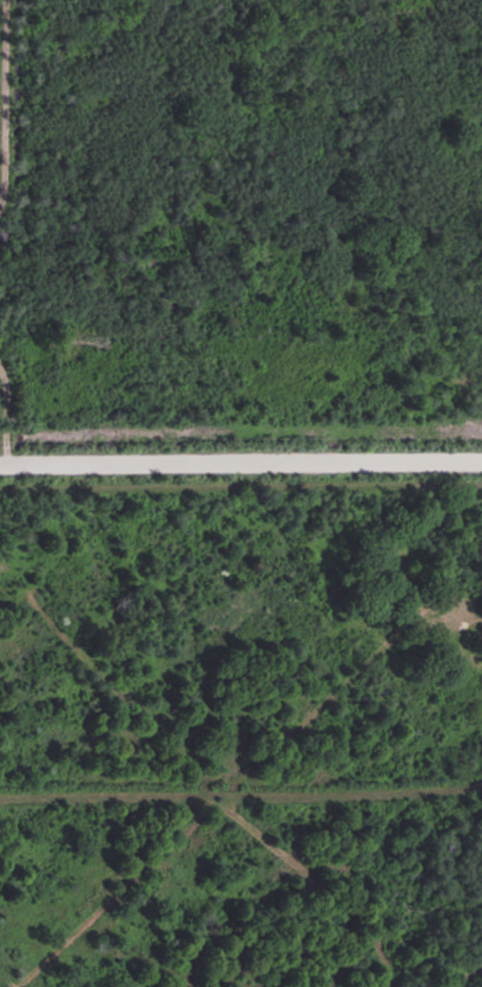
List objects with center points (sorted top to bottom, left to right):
road: (241, 460)

